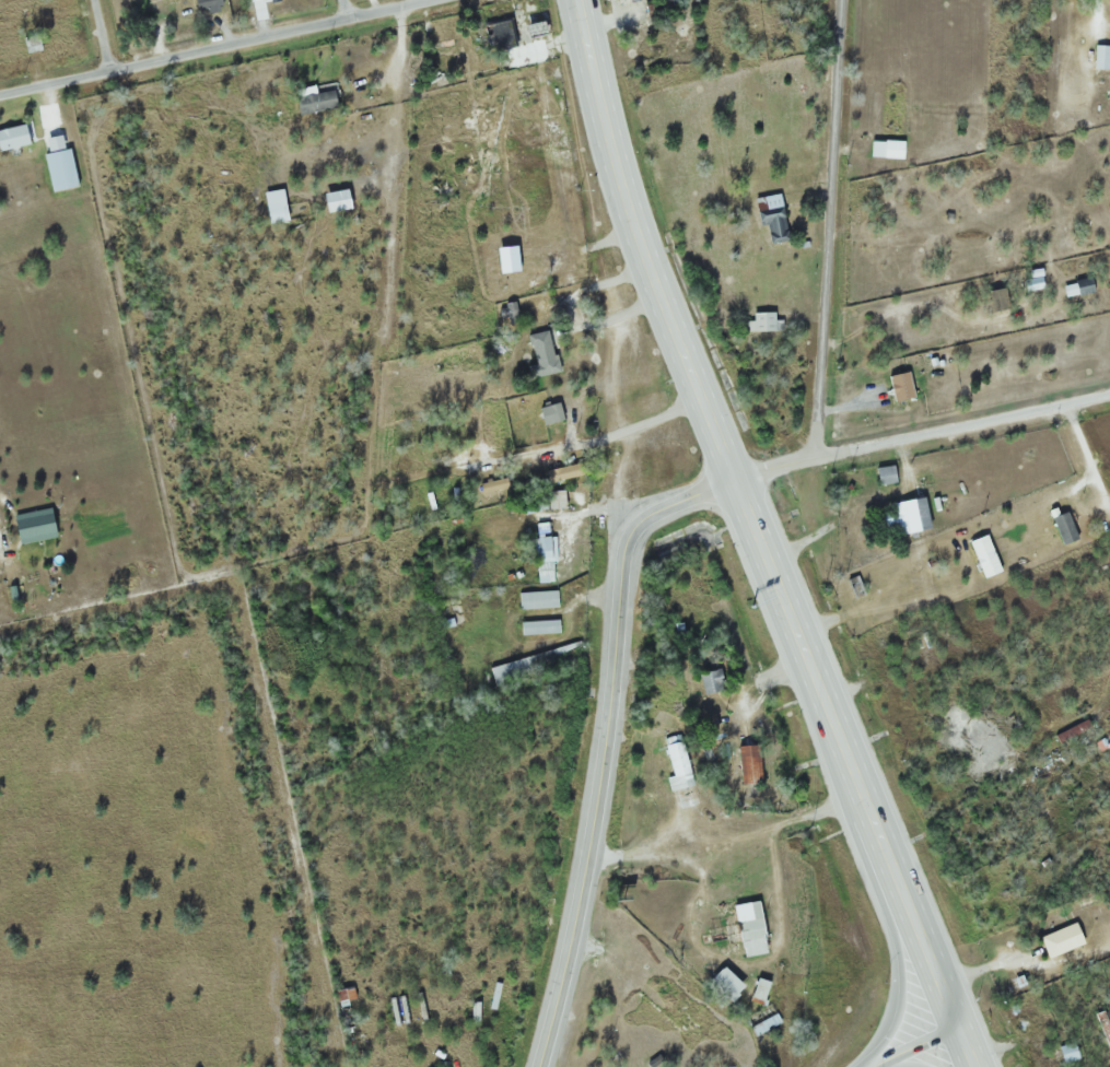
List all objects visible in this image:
building: (205, 2)
road: (348, 9)
building: (496, 34)
road: (103, 36)
building: (657, 46)
road: (214, 48)
building: (1101, 58)
building: (13, 137)
building: (885, 149)
building: (59, 171)
building: (771, 216)
road: (641, 244)
road: (822, 269)
building: (1032, 280)
building: (1082, 285)
building: (762, 321)
building: (541, 353)
building: (899, 386)
building: (549, 414)
road: (960, 422)
building: (884, 473)
building: (492, 485)
building: (553, 500)
building: (908, 514)
building: (32, 526)
building: (1063, 526)
building: (982, 554)
building: (536, 599)
building: (538, 626)
building: (711, 681)
building: (1072, 730)
building: (1102, 741)
road: (601, 744)
road: (844, 760)
building: (747, 763)
building: (676, 764)
building: (747, 928)
railway: (994, 929)
building: (1060, 939)
building: (724, 984)
building: (346, 993)
building: (697, 1006)
building: (761, 1019)
road: (923, 1052)
road: (968, 1052)
building: (1066, 1052)

